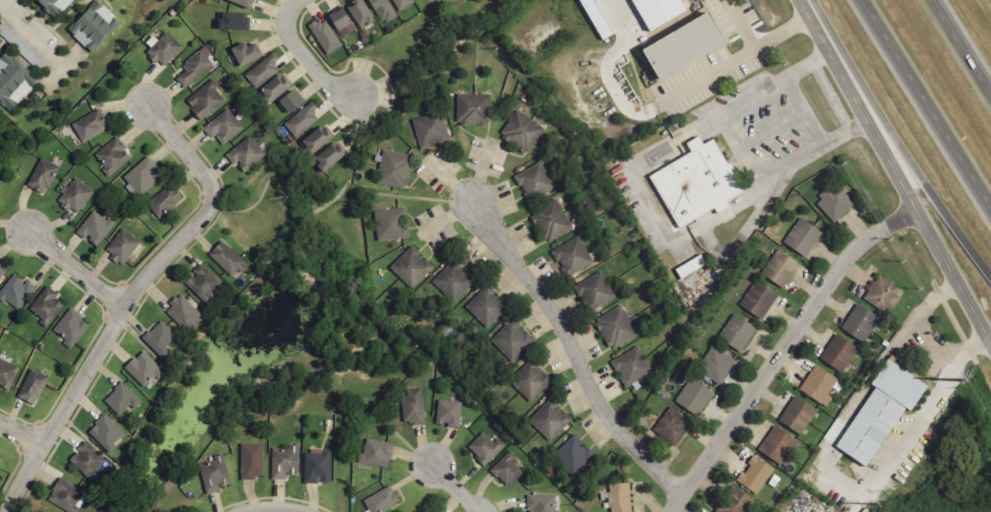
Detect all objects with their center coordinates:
building: (241, 3)
building: (401, 4)
building: (55, 5)
building: (381, 10)
building: (656, 11)
building: (359, 13)
building: (595, 21)
building: (233, 22)
building: (340, 22)
building: (92, 25)
road: (31, 35)
building: (325, 36)
building: (679, 46)
road: (961, 47)
building: (164, 49)
building: (245, 53)
road: (305, 56)
building: (263, 71)
building: (13, 78)
building: (274, 88)
building: (206, 100)
building: (289, 100)
road: (926, 104)
building: (474, 110)
building: (302, 120)
building: (90, 126)
building: (224, 126)
building: (430, 130)
building: (522, 132)
building: (317, 139)
road: (897, 141)
building: (245, 154)
building: (113, 156)
building: (328, 157)
building: (395, 169)
road: (896, 170)
building: (42, 176)
building: (142, 177)
building: (535, 182)
building: (694, 183)
building: (74, 196)
building: (164, 201)
building: (834, 203)
building: (550, 221)
building: (391, 224)
building: (95, 228)
building: (802, 238)
building: (123, 246)
building: (572, 256)
building: (227, 259)
building: (411, 267)
building: (689, 267)
road: (76, 269)
building: (780, 269)
building: (1, 272)
building: (452, 282)
building: (203, 283)
building: (16, 291)
building: (594, 292)
building: (880, 293)
road: (129, 299)
building: (758, 300)
building: (46, 305)
building: (487, 306)
building: (183, 312)
building: (859, 323)
building: (71, 327)
building: (615, 327)
building: (737, 333)
building: (160, 338)
building: (513, 340)
road: (782, 348)
road: (573, 351)
building: (838, 352)
building: (716, 364)
building: (631, 367)
building: (143, 368)
building: (7, 374)
building: (530, 380)
building: (819, 385)
building: (33, 387)
building: (694, 397)
building: (121, 399)
building: (414, 406)
building: (879, 411)
building: (449, 413)
building: (797, 415)
building: (550, 419)
building: (673, 426)
road: (21, 432)
building: (106, 432)
building: (776, 445)
building: (485, 448)
building: (376, 453)
building: (574, 455)
building: (0, 459)
building: (87, 459)
building: (252, 461)
building: (285, 462)
building: (317, 466)
building: (507, 469)
building: (214, 474)
building: (755, 475)
road: (456, 487)
building: (65, 495)
building: (619, 497)
building: (381, 500)
building: (734, 501)
building: (542, 503)
building: (428, 510)

